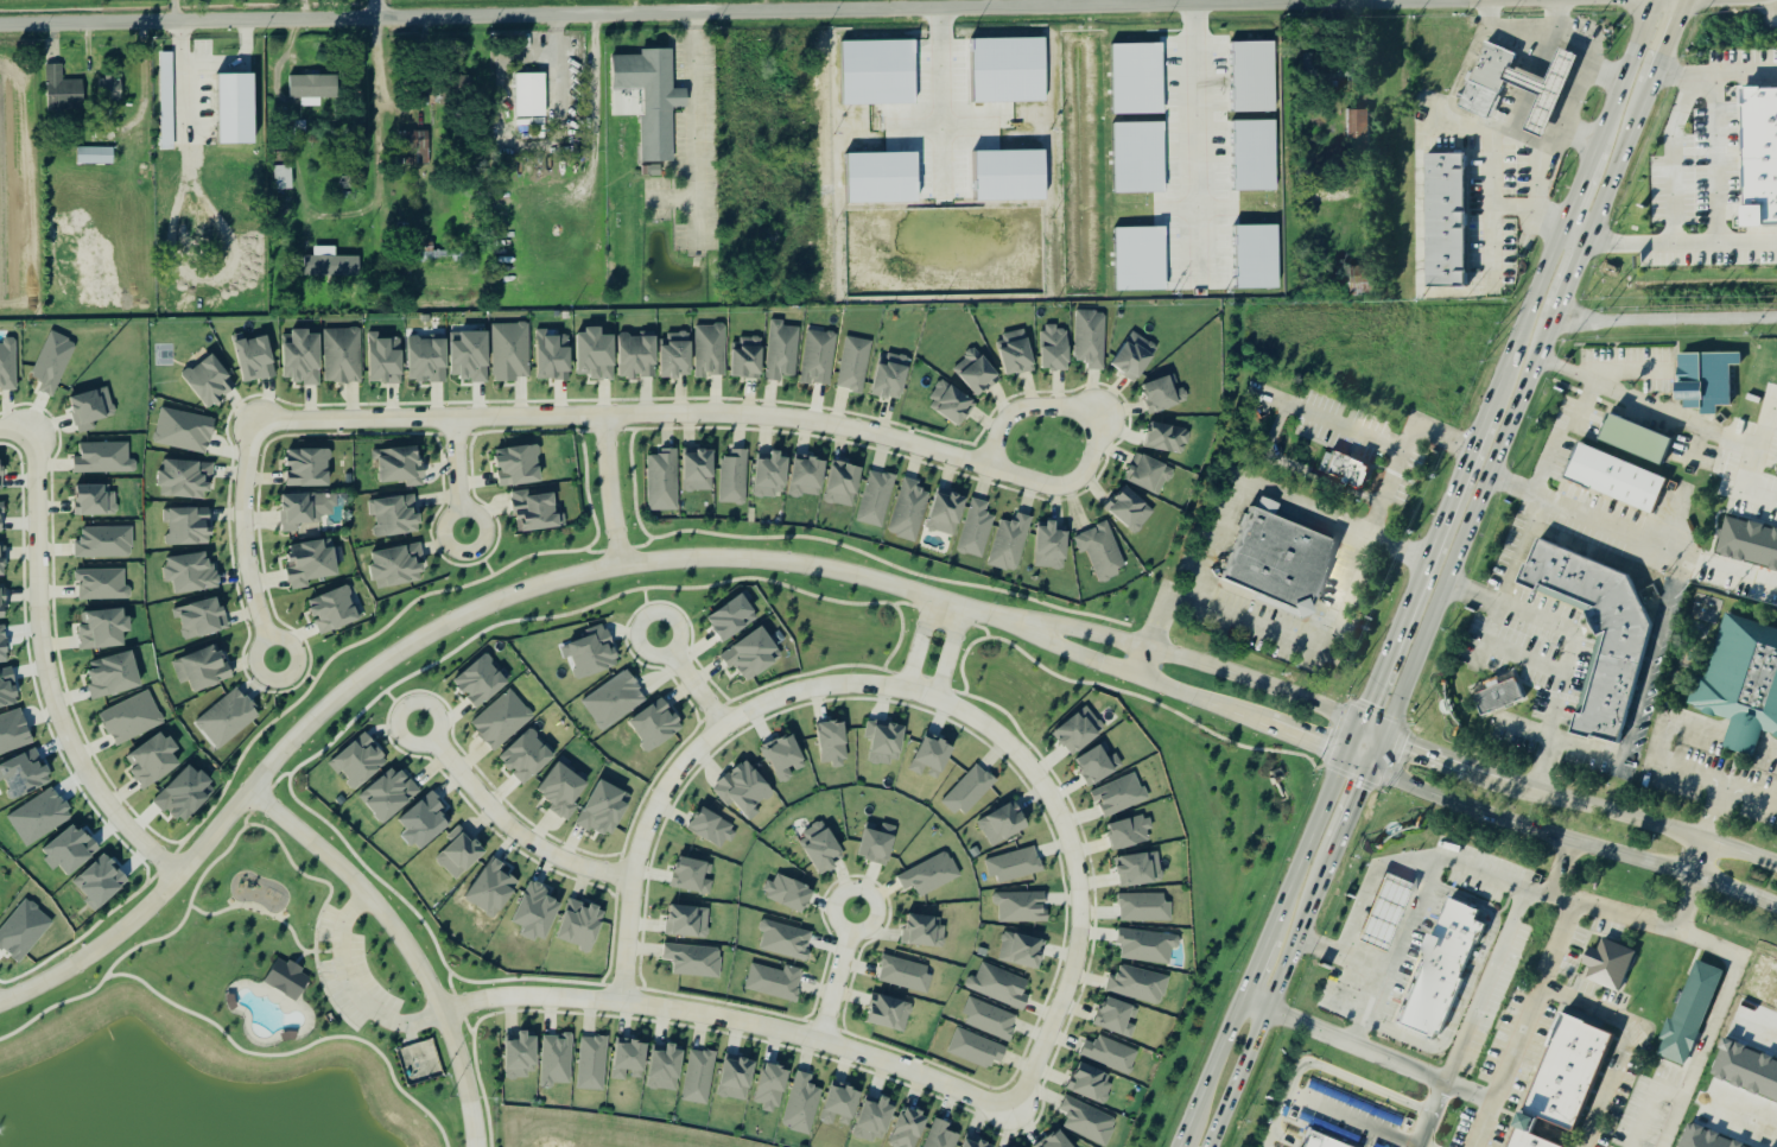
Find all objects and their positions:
road: (1502, 1)
road: (1392, 2)
road: (1041, 4)
road: (900, 5)
road: (989, 5)
road: (772, 6)
road: (372, 9)
road: (783, 11)
road: (1553, 32)
road: (1663, 43)
road: (233, 64)
road: (1626, 69)
building: (877, 72)
building: (1007, 72)
road: (592, 74)
road: (180, 76)
building: (1252, 76)
road: (1603, 76)
road: (1713, 76)
building: (1134, 78)
building: (1486, 80)
building: (311, 88)
building: (1543, 89)
building: (110, 90)
building: (63, 91)
building: (529, 95)
building: (649, 101)
building: (165, 102)
road: (374, 106)
building: (233, 109)
road: (696, 126)
road: (1561, 128)
building: (1357, 131)
building: (421, 142)
road: (1195, 144)
building: (1250, 156)
building: (95, 157)
road: (1673, 157)
building: (1136, 158)
building: (1762, 158)
road: (1711, 159)
road: (1616, 161)
building: (1008, 176)
building: (881, 178)
building: (284, 179)
road: (1580, 183)
building: (1445, 218)
road: (1574, 230)
road: (1680, 243)
building: (1254, 256)
building: (1137, 259)
building: (330, 267)
road: (1568, 278)
road: (1664, 319)
road: (1523, 321)
building: (1091, 338)
building: (1055, 348)
building: (710, 350)
building: (782, 350)
building: (510, 351)
building: (1016, 353)
building: (596, 354)
park: (163, 355)
building: (343, 355)
building: (470, 355)
building: (637, 355)
building: (677, 355)
building: (303, 356)
building: (552, 356)
building: (1135, 356)
building: (255, 357)
building: (747, 357)
building: (819, 357)
building: (386, 359)
building: (429, 359)
building: (8, 363)
building: (52, 363)
building: (855, 365)
building: (976, 372)
building: (891, 375)
building: (1709, 379)
building: (209, 380)
building: (1164, 394)
road: (1584, 400)
building: (951, 403)
building: (90, 407)
road: (1690, 413)
road: (788, 419)
road: (1325, 419)
road: (17, 429)
building: (184, 431)
road: (1773, 432)
building: (1168, 438)
building: (1635, 439)
building: (104, 458)
road: (1547, 461)
building: (519, 464)
building: (401, 465)
building: (309, 468)
building: (1346, 469)
building: (699, 470)
building: (1149, 474)
building: (1, 475)
building: (772, 475)
building: (734, 477)
building: (808, 477)
building: (1613, 477)
building: (186, 479)
road: (459, 479)
building: (662, 481)
building: (844, 484)
road: (611, 492)
road: (1270, 498)
building: (876, 499)
building: (95, 500)
building: (305, 509)
building: (1130, 509)
building: (534, 511)
building: (908, 511)
building: (947, 512)
road: (1585, 512)
building: (394, 515)
building: (1, 518)
building: (188, 526)
road: (1467, 527)
building: (976, 530)
building: (1749, 541)
building: (104, 543)
road: (248, 543)
building: (1010, 543)
building: (1052, 546)
road: (1521, 547)
building: (1100, 551)
building: (311, 563)
building: (2, 564)
building: (1277, 564)
building: (398, 566)
road: (1728, 568)
road: (591, 570)
road: (1422, 570)
building: (191, 572)
building: (102, 584)
building: (2, 603)
building: (334, 610)
building: (199, 617)
building: (732, 617)
road: (1327, 622)
building: (103, 629)
building: (1603, 629)
road: (918, 642)
road: (1574, 642)
building: (594, 652)
road: (948, 652)
building: (753, 654)
road: (1181, 661)
building: (202, 668)
road: (45, 672)
building: (114, 674)
road: (690, 679)
building: (481, 682)
building: (1743, 683)
building: (8, 687)
road: (1170, 689)
building: (1502, 696)
building: (614, 699)
building: (132, 718)
building: (228, 718)
building: (502, 720)
traffic signals: (1359, 723)
building: (656, 724)
road: (1371, 729)
building: (13, 731)
building: (1079, 731)
traffic signals: (1384, 735)
road: (1352, 740)
road: (1741, 740)
building: (886, 741)
building: (833, 743)
road: (1769, 749)
road: (1377, 752)
traffic signals: (1345, 756)
building: (527, 758)
building: (785, 758)
building: (932, 758)
building: (153, 760)
road: (685, 760)
building: (358, 761)
road: (1358, 762)
building: (1098, 765)
road: (1670, 766)
traffic signals: (1371, 768)
road: (279, 778)
building: (744, 787)
building: (564, 790)
building: (967, 791)
building: (186, 793)
building: (389, 794)
building: (1119, 794)
road: (261, 799)
road: (1580, 803)
building: (604, 810)
road: (1715, 815)
road: (1350, 816)
road: (246, 818)
building: (425, 822)
road: (507, 824)
building: (1003, 825)
building: (712, 829)
building: (1131, 832)
road: (1310, 841)
road: (1572, 841)
building: (878, 844)
building: (821, 848)
building: (461, 853)
road: (1697, 860)
road: (214, 862)
building: (1014, 866)
building: (1140, 869)
road: (1429, 869)
road: (368, 870)
road: (1075, 873)
building: (929, 875)
building: (692, 876)
road: (311, 877)
building: (101, 881)
road: (1369, 883)
building: (493, 889)
building: (789, 893)
road: (256, 906)
building: (1021, 907)
building: (1142, 907)
road: (1610, 910)
building: (538, 912)
building: (1383, 913)
road: (139, 914)
building: (687, 921)
building: (582, 925)
building: (924, 932)
building: (785, 940)
road: (148, 942)
road: (404, 942)
building: (1147, 946)
building: (1020, 950)
road: (312, 951)
road: (323, 951)
road: (300, 957)
building: (694, 959)
road: (1261, 962)
building: (1607, 964)
road: (1378, 967)
building: (1440, 970)
building: (905, 975)
road: (840, 977)
building: (286, 978)
road: (523, 980)
building: (1762, 981)
building: (773, 982)
road: (1467, 983)
road: (449, 984)
building: (1138, 984)
road: (604, 986)
building: (999, 987)
road: (354, 989)
road: (328, 994)
road: (1257, 1003)
road: (1270, 1005)
road: (1475, 1006)
road: (51, 1007)
road: (459, 1007)
building: (889, 1013)
building: (1688, 1014)
building: (1116, 1018)
road: (732, 1020)
building: (989, 1020)
road: (1714, 1020)
road: (1758, 1020)
road: (1524, 1024)
road: (468, 1027)
park: (218, 1028)
road: (1626, 1045)
building: (976, 1050)
road: (291, 1052)
building: (1110, 1054)
road: (1381, 1054)
building: (521, 1056)
building: (630, 1059)
building: (556, 1060)
building: (592, 1064)
building: (666, 1067)
road: (1326, 1069)
building: (1747, 1070)
road: (1213, 1072)
building: (1573, 1075)
building: (699, 1077)
building: (737, 1078)
building: (1090, 1084)
building: (772, 1088)
road: (1649, 1103)
building: (801, 1104)
building: (842, 1107)
road: (1741, 1110)
road: (1348, 1119)
building: (876, 1120)
building: (1087, 1121)
building: (909, 1128)
building: (940, 1135)
building: (1056, 1141)
building: (1318, 1141)
building: (976, 1142)

